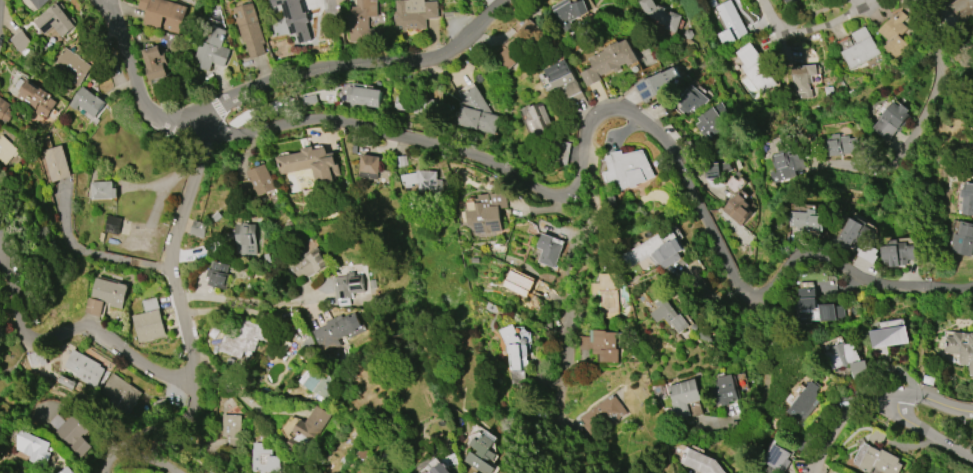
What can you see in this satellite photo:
road: (304, 0)
building: (695, 0)
building: (787, 1)
building: (38, 3)
building: (962, 9)
building: (162, 13)
building: (413, 13)
building: (661, 14)
building: (571, 17)
building: (54, 20)
building: (358, 20)
building: (730, 25)
building: (249, 29)
road: (334, 32)
building: (893, 33)
road: (802, 36)
building: (20, 41)
building: (517, 45)
building: (211, 48)
building: (857, 48)
building: (608, 60)
building: (153, 62)
building: (71, 66)
building: (755, 68)
building: (802, 76)
building: (561, 80)
building: (655, 83)
road: (956, 86)
road: (934, 88)
building: (362, 97)
building: (36, 99)
building: (309, 100)
building: (691, 100)
building: (87, 102)
building: (417, 106)
building: (4, 111)
building: (474, 112)
building: (891, 120)
building: (540, 121)
building: (712, 121)
building: (843, 145)
building: (6, 150)
building: (563, 152)
road: (201, 156)
building: (57, 162)
building: (786, 162)
building: (312, 165)
building: (369, 166)
building: (631, 167)
building: (707, 171)
road: (579, 176)
building: (423, 182)
building: (258, 183)
building: (734, 184)
building: (102, 190)
building: (968, 199)
building: (737, 208)
building: (486, 212)
building: (809, 220)
building: (112, 225)
building: (550, 231)
building: (855, 232)
building: (963, 238)
building: (246, 239)
building: (549, 250)
building: (655, 251)
building: (897, 253)
road: (94, 254)
building: (309, 262)
building: (219, 275)
building: (519, 283)
building: (347, 287)
building: (106, 295)
building: (608, 295)
road: (572, 299)
road: (223, 305)
building: (813, 307)
building: (668, 316)
building: (148, 321)
road: (79, 329)
building: (333, 331)
building: (889, 336)
building: (243, 339)
road: (917, 343)
building: (605, 345)
building: (961, 348)
building: (515, 353)
building: (843, 354)
building: (36, 359)
building: (81, 366)
building: (859, 370)
building: (314, 381)
building: (723, 390)
building: (119, 393)
road: (873, 396)
building: (683, 397)
building: (805, 401)
building: (601, 415)
building: (231, 429)
building: (307, 430)
building: (70, 433)
road: (925, 433)
building: (33, 447)
road: (904, 448)
building: (481, 453)
building: (777, 457)
road: (140, 459)
building: (263, 459)
building: (876, 460)
building: (700, 462)
building: (439, 469)
building: (67, 470)
building: (216, 472)
building: (227, 472)

